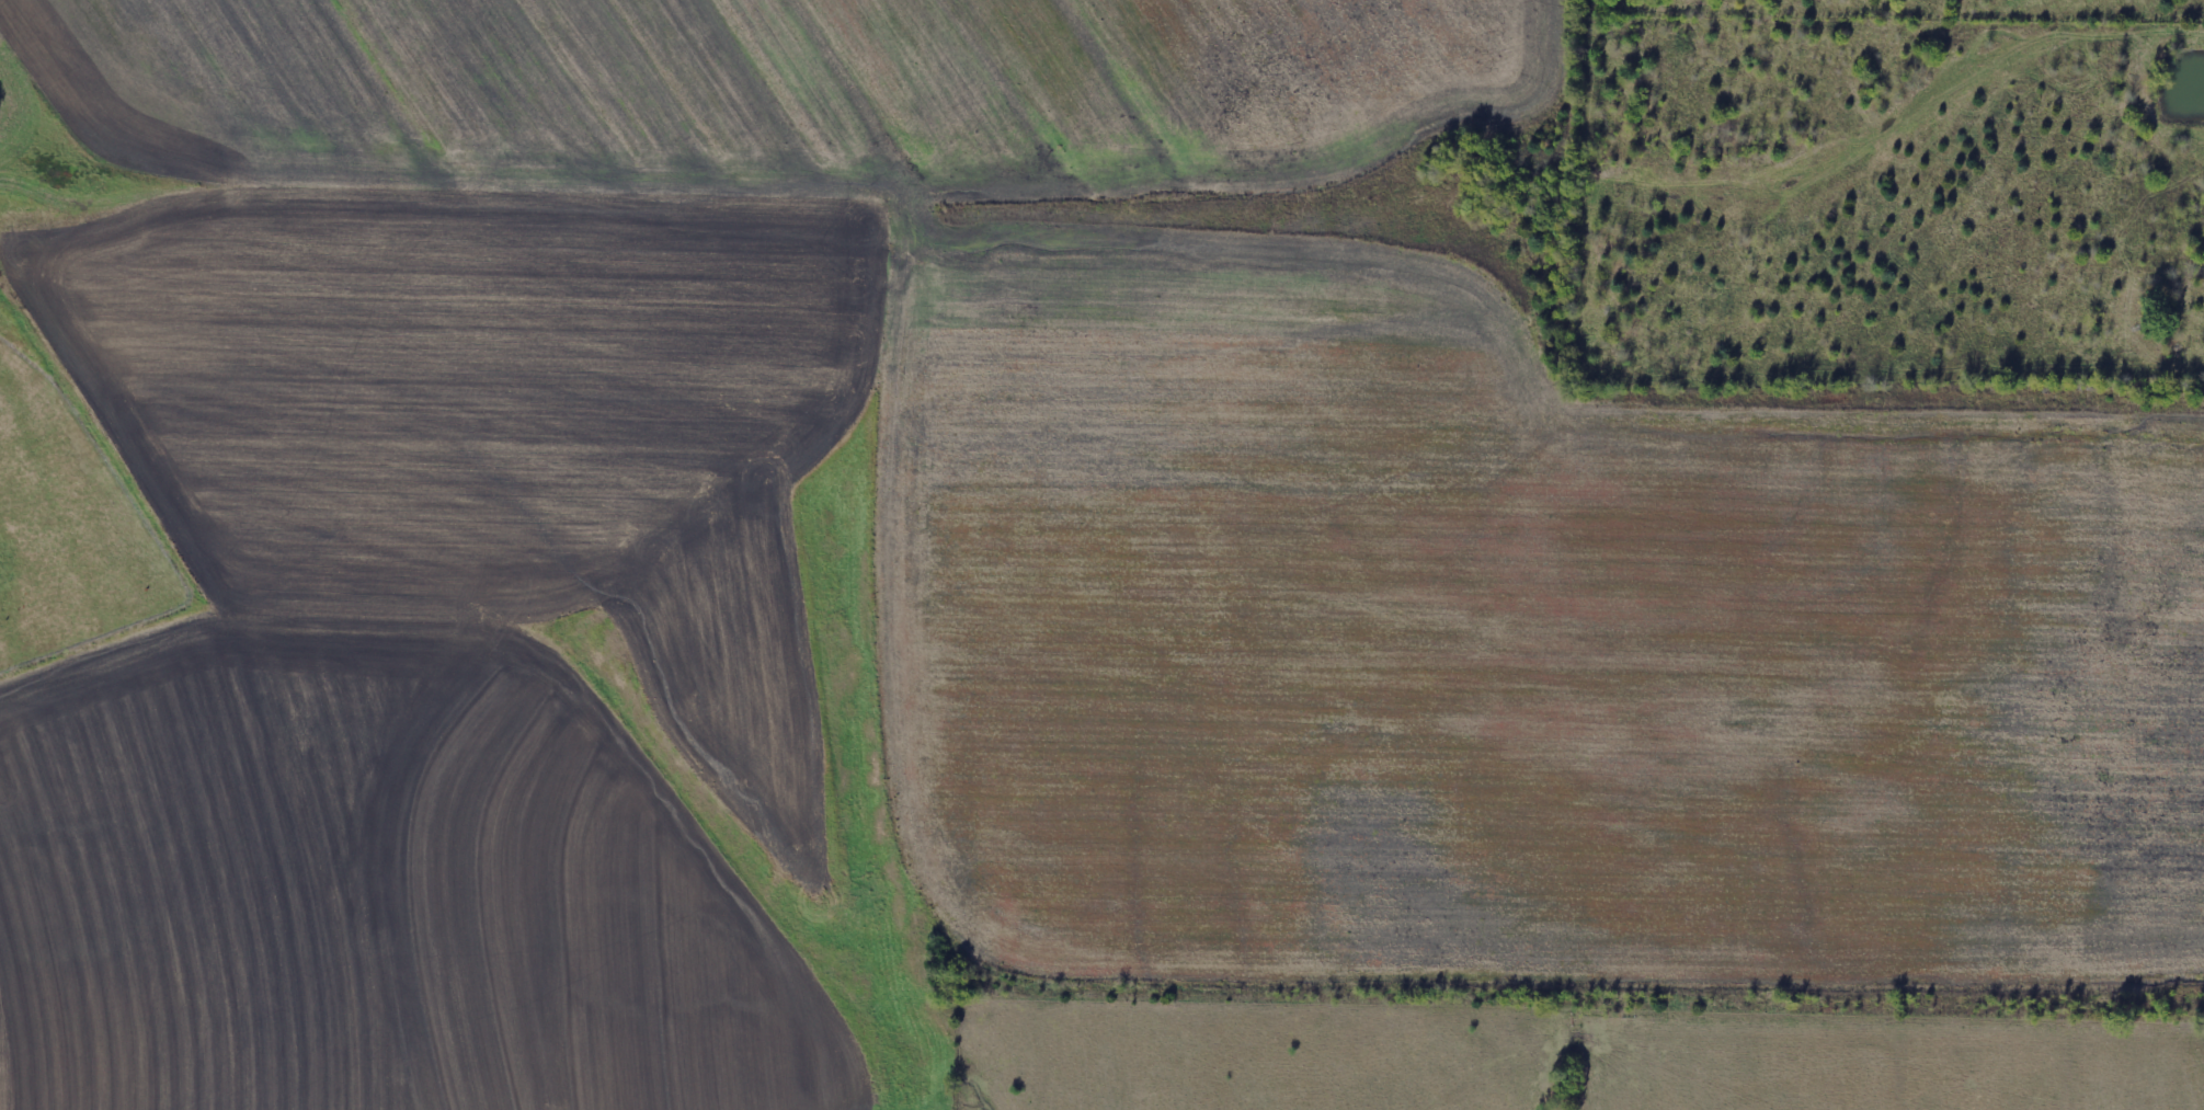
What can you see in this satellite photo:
road: (510, 210)

